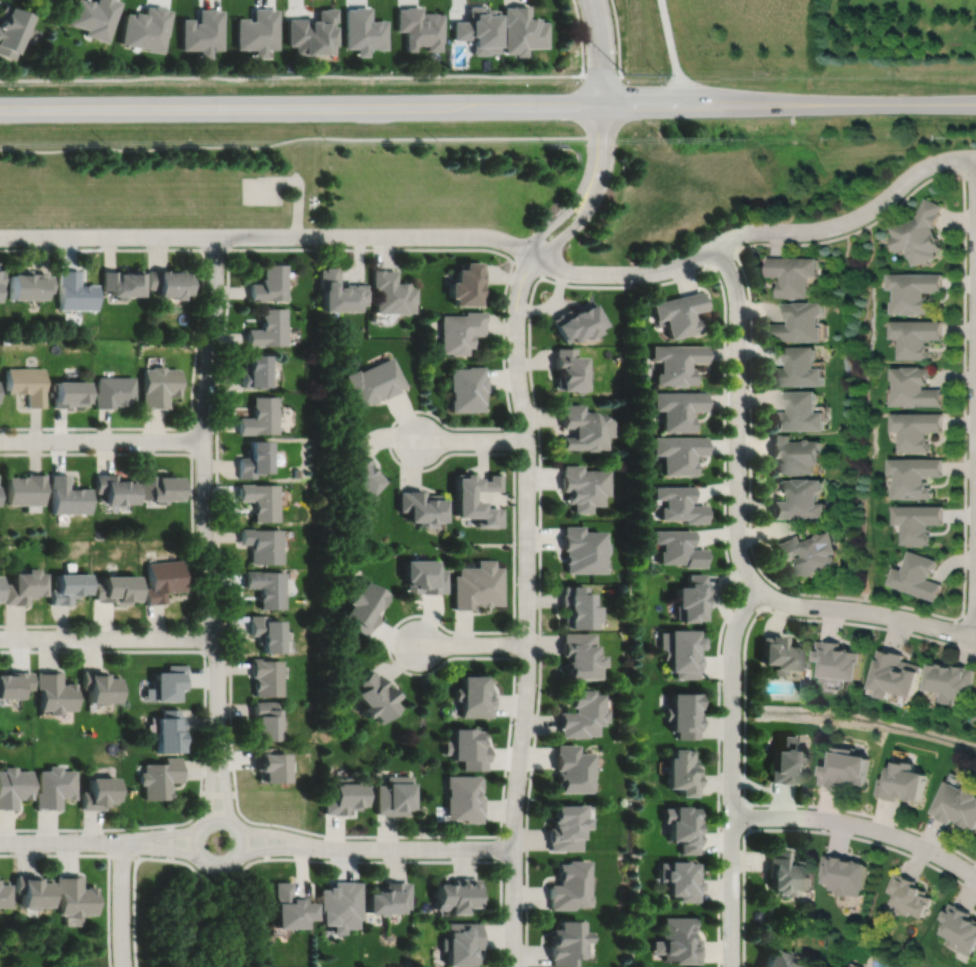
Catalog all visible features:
building: (24, 0)
street lamp: (611, 15)
building: (94, 17)
building: (420, 27)
building: (146, 28)
building: (11, 29)
building: (478, 29)
building: (363, 30)
building: (521, 30)
building: (202, 31)
building: (258, 31)
building: (312, 32)
road: (616, 32)
road: (582, 37)
road: (600, 53)
road: (672, 53)
street lamp: (586, 67)
power tower: (623, 74)
power tower: (239, 75)
road: (300, 76)
road: (857, 105)
road: (369, 108)
road: (602, 136)
road: (293, 138)
street lamp: (615, 158)
road: (967, 171)
street lamp: (892, 179)
road: (295, 181)
parking lot: (262, 190)
street lamp: (556, 211)
road: (565, 211)
road: (580, 219)
building: (920, 234)
road: (108, 236)
street lamp: (796, 240)
street lamp: (50, 245)
street lamp: (143, 245)
street lamp: (314, 245)
street lamp: (419, 245)
street lamp: (234, 246)
road: (216, 248)
street lamp: (506, 252)
road: (723, 256)
road: (529, 267)
road: (607, 273)
building: (793, 275)
building: (1, 278)
building: (168, 283)
street lamp: (620, 283)
building: (122, 284)
building: (271, 284)
building: (466, 285)
road: (637, 285)
building: (28, 286)
building: (74, 292)
building: (914, 292)
building: (340, 293)
building: (392, 293)
street lamp: (748, 297)
street lamp: (225, 304)
building: (681, 313)
street lamp: (965, 316)
building: (576, 323)
building: (801, 323)
building: (270, 329)
road: (200, 331)
building: (461, 332)
building: (917, 338)
street lamp: (527, 345)
building: (678, 363)
building: (799, 369)
building: (255, 371)
building: (568, 371)
street lamp: (197, 376)
road: (969, 381)
building: (376, 382)
building: (27, 384)
building: (159, 386)
building: (915, 387)
street lamp: (729, 388)
building: (467, 389)
building: (113, 392)
building: (69, 394)
road: (975, 395)
building: (680, 408)
building: (801, 412)
road: (404, 414)
road: (969, 415)
building: (261, 416)
road: (739, 417)
building: (583, 427)
building: (916, 427)
street lamp: (46, 430)
road: (514, 438)
road: (472, 439)
road: (102, 440)
road: (192, 440)
street lamp: (138, 449)
street lamp: (450, 450)
building: (680, 451)
building: (796, 452)
street lamp: (538, 455)
building: (257, 458)
building: (360, 469)
building: (297, 472)
building: (915, 474)
street lamp: (749, 475)
street lamp: (214, 480)
building: (159, 485)
building: (583, 485)
road: (205, 486)
building: (114, 487)
building: (27, 488)
building: (465, 493)
building: (68, 495)
building: (801, 498)
building: (261, 499)
building: (681, 502)
street lamp: (966, 502)
building: (422, 505)
building: (917, 520)
road: (194, 544)
building: (263, 544)
road: (963, 545)
street lamp: (518, 546)
building: (680, 547)
building: (582, 548)
building: (810, 550)
street lamp: (219, 569)
building: (425, 575)
building: (916, 575)
building: (163, 579)
building: (0, 582)
building: (478, 584)
building: (25, 586)
building: (67, 586)
building: (268, 586)
building: (115, 587)
building: (692, 597)
road: (754, 597)
building: (577, 606)
building: (363, 607)
road: (528, 609)
road: (867, 612)
street lamp: (817, 616)
road: (967, 616)
street lamp: (139, 627)
street lamp: (538, 630)
building: (267, 631)
street lamp: (450, 632)
road: (204, 636)
street lamp: (932, 636)
road: (108, 638)
road: (515, 640)
road: (473, 644)
street lamp: (34, 647)
building: (682, 650)
building: (784, 654)
building: (579, 655)
street lamp: (208, 660)
building: (840, 660)
building: (896, 673)
building: (267, 675)
building: (949, 680)
building: (169, 682)
building: (15, 683)
building: (99, 685)
building: (54, 691)
building: (377, 696)
building: (474, 696)
street lamp: (742, 700)
building: (581, 714)
building: (684, 714)
road: (745, 714)
building: (266, 719)
street lamp: (515, 723)
road: (206, 729)
building: (169, 730)
building: (468, 747)
building: (789, 760)
building: (271, 765)
building: (572, 768)
building: (848, 768)
building: (683, 772)
road: (732, 773)
building: (160, 777)
road: (212, 779)
road: (224, 779)
building: (903, 782)
building: (15, 786)
building: (54, 786)
building: (99, 792)
road: (219, 793)
building: (395, 795)
building: (343, 797)
street lamp: (526, 797)
building: (465, 798)
street lamp: (723, 800)
building: (956, 805)
street lamp: (200, 812)
road: (749, 816)
road: (221, 817)
road: (859, 824)
building: (565, 826)
street lamp: (276, 827)
building: (683, 827)
street lamp: (822, 828)
road: (799, 829)
street lamp: (80, 831)
road: (161, 834)
road: (284, 837)
street lamp: (367, 838)
road: (63, 841)
road: (171, 841)
road: (161, 848)
road: (423, 848)
road: (283, 849)
road: (125, 854)
road: (109, 856)
road: (260, 858)
street lamp: (495, 858)
street lamp: (964, 858)
street lamp: (111, 859)
building: (788, 873)
street lamp: (742, 874)
building: (846, 874)
building: (681, 880)
building: (569, 886)
building: (33, 891)
building: (4, 894)
building: (458, 895)
building: (910, 895)
building: (74, 896)
building: (387, 898)
road: (502, 901)
road: (122, 904)
building: (339, 906)
building: (289, 908)
street lamp: (504, 919)
building: (959, 929)
building: (565, 942)
building: (678, 942)
building: (463, 943)
building: (783, 960)
building: (850, 965)

